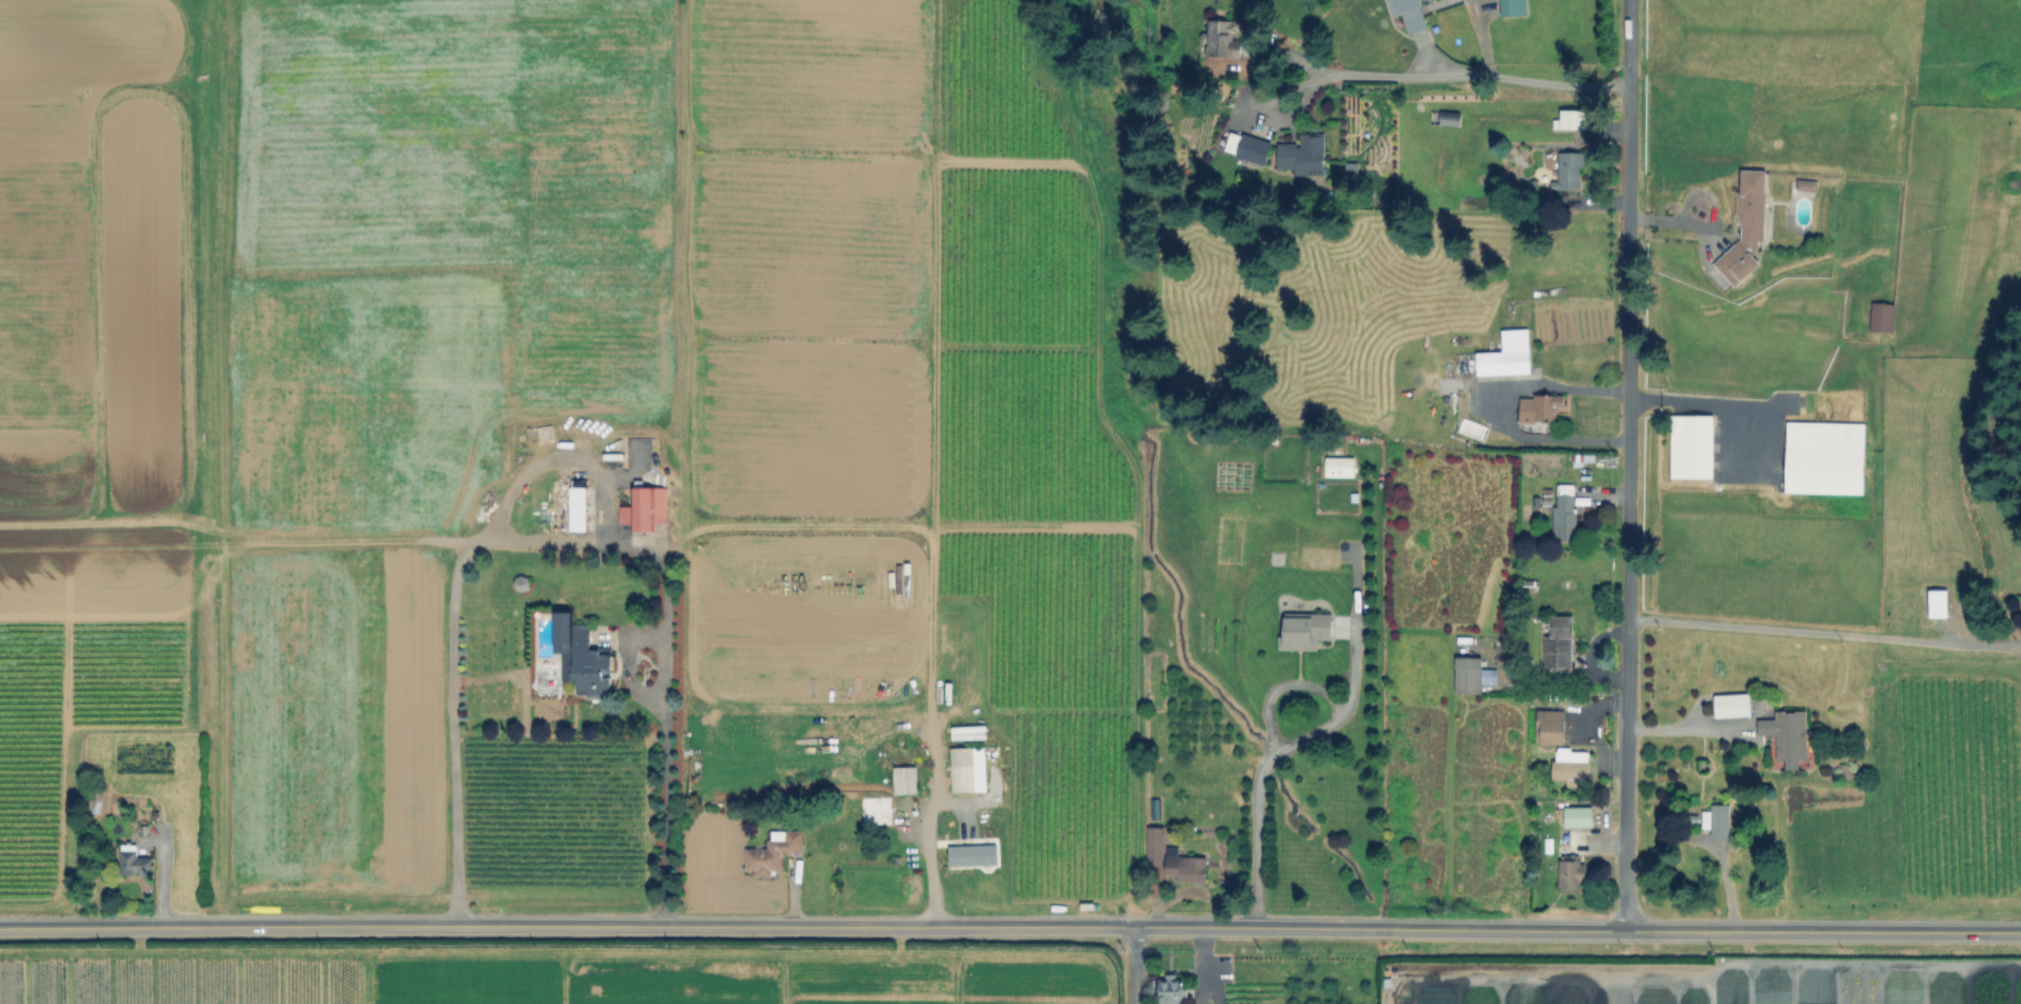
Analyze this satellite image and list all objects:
building: (1514, 8)
building: (1411, 15)
building: (1221, 40)
road: (1476, 65)
building: (1446, 118)
building: (1572, 119)
building: (1248, 147)
building: (1305, 155)
building: (1352, 169)
building: (1569, 170)
building: (1805, 185)
road: (1707, 222)
building: (1746, 229)
building: (1880, 316)
building: (1507, 356)
building: (1541, 407)
road: (1730, 407)
road: (1508, 411)
building: (1690, 446)
crop: (551, 454)
building: (1823, 457)
road: (1629, 464)
building: (1338, 466)
building: (580, 510)
building: (646, 510)
building: (1566, 513)
road: (462, 559)
building: (1531, 586)
building: (1938, 604)
building: (1306, 631)
road: (1814, 638)
building: (1559, 645)
building: (583, 655)
building: (1470, 674)
road: (931, 681)
building: (1732, 706)
building: (1550, 727)
road: (1686, 728)
building: (1788, 734)
road: (1269, 757)
building: (1571, 766)
building: (969, 770)
building: (906, 780)
road: (668, 798)
building: (98, 806)
building: (1579, 818)
building: (1719, 821)
building: (1155, 845)
building: (773, 853)
building: (971, 854)
building: (134, 860)
building: (1188, 867)
building: (1571, 873)
road: (1010, 924)
road: (1134, 964)
building: (1171, 988)

